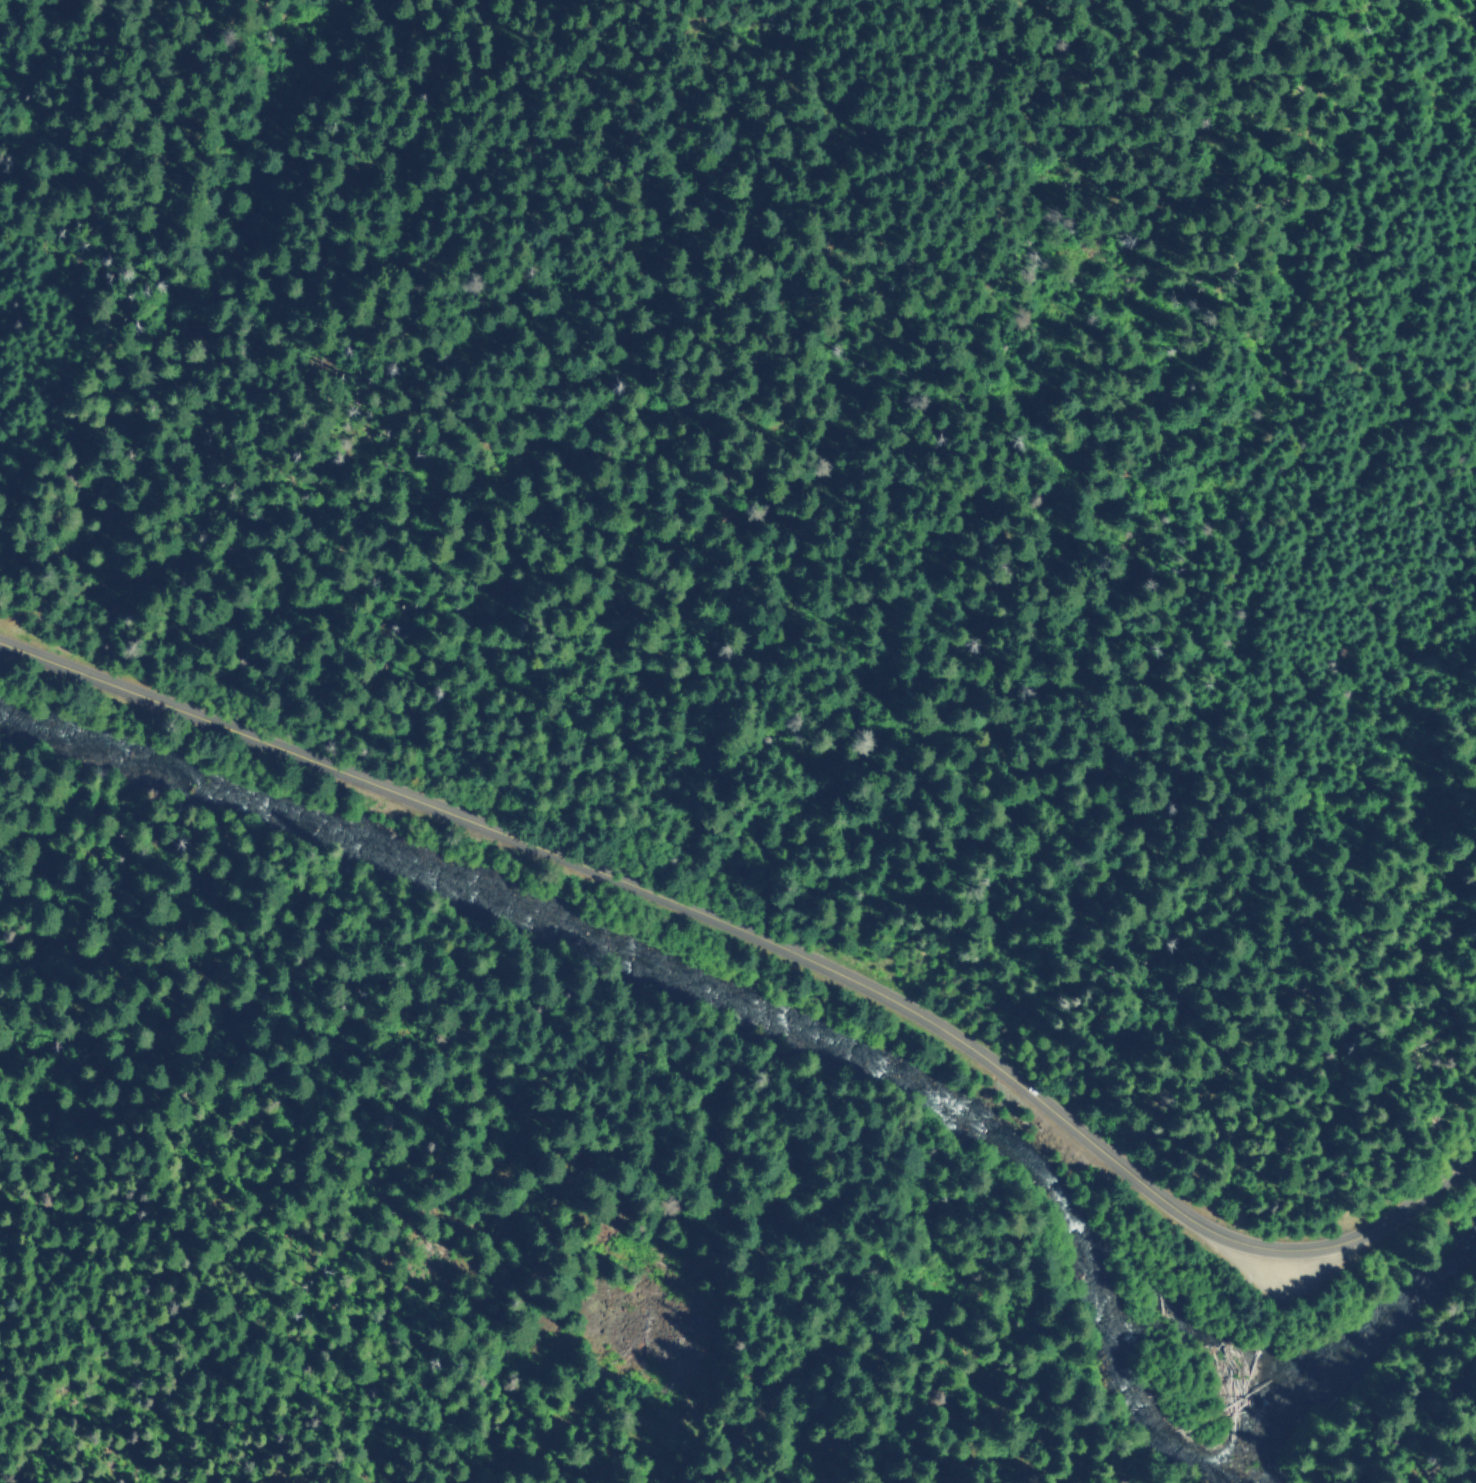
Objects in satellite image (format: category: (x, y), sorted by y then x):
road: (770, 938)
river: (781, 1047)

